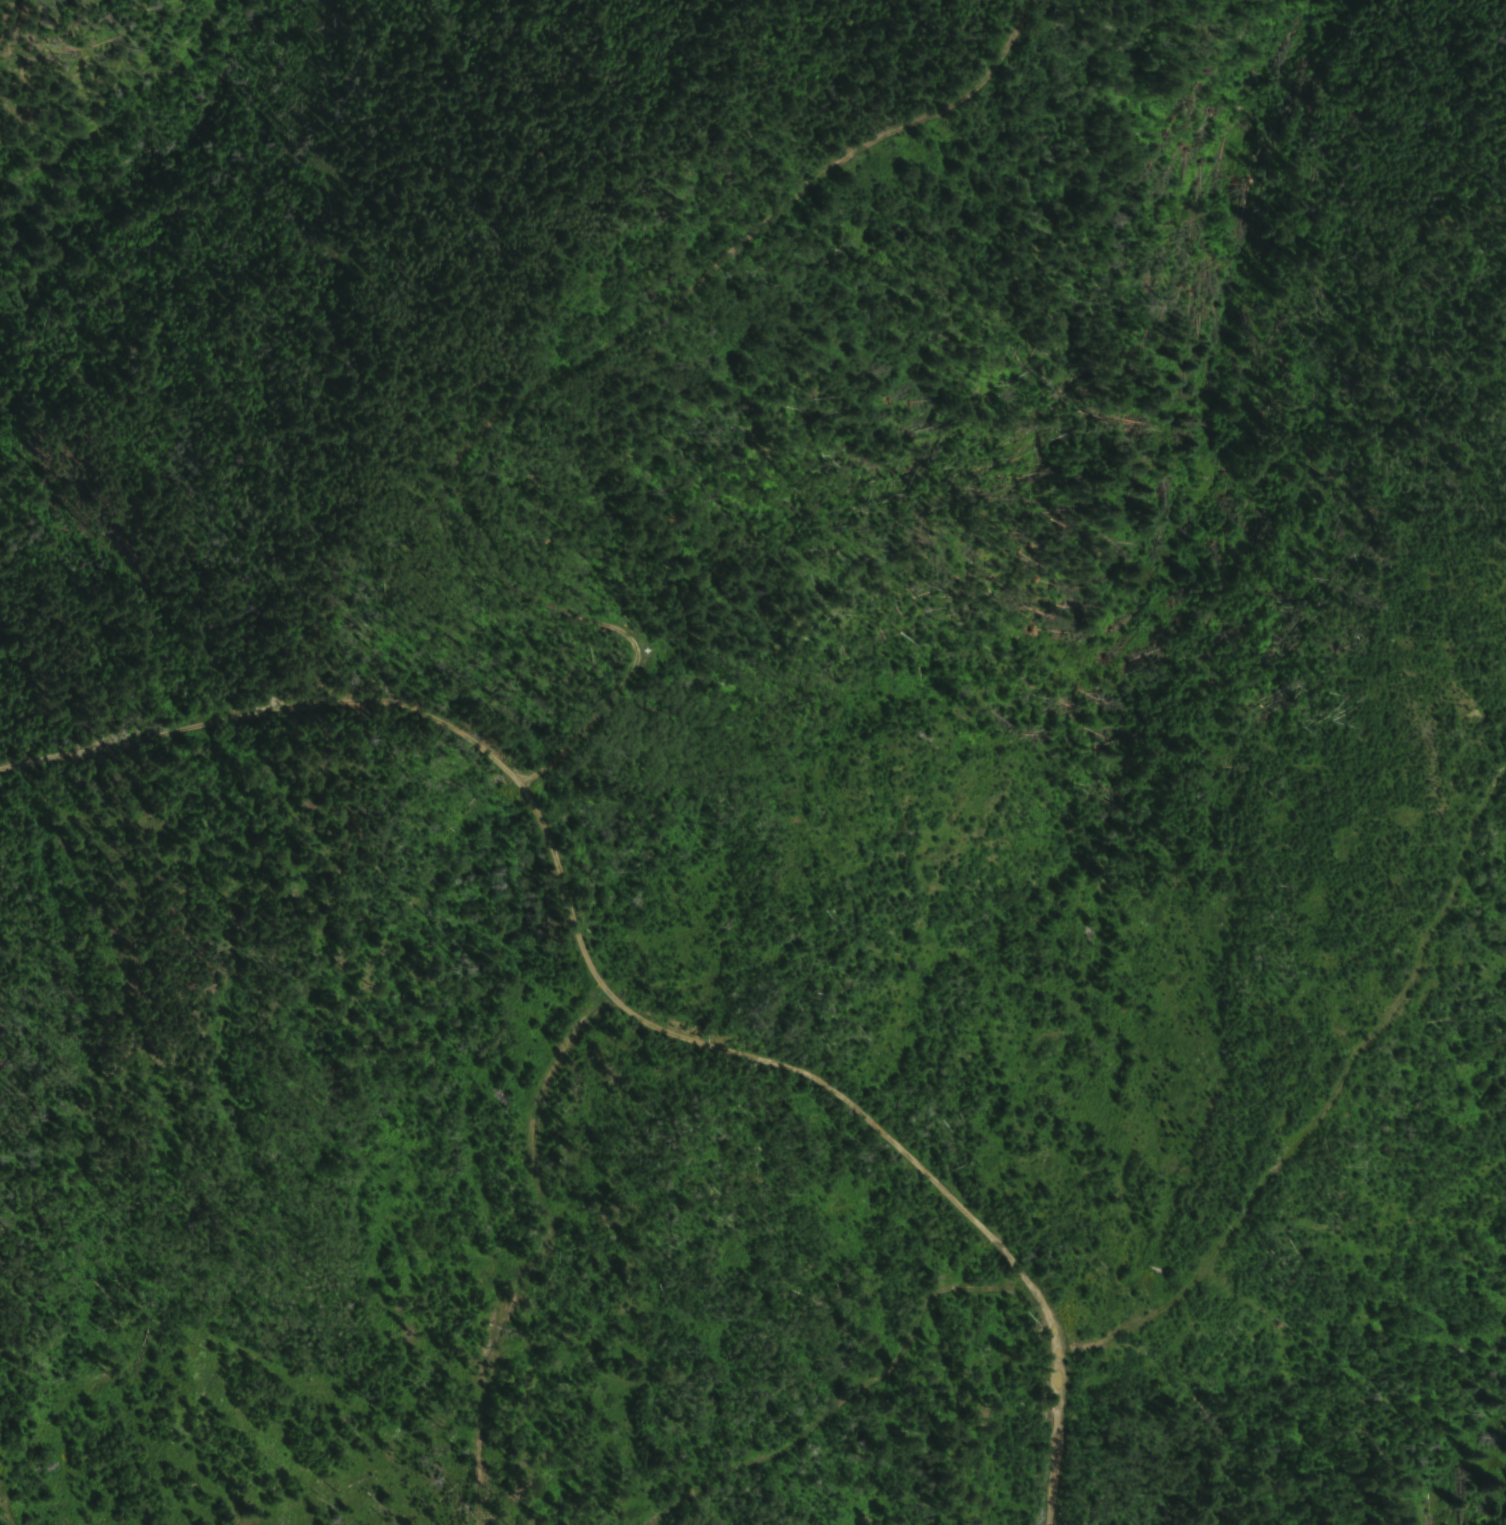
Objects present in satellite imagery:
road: (603, 991)

